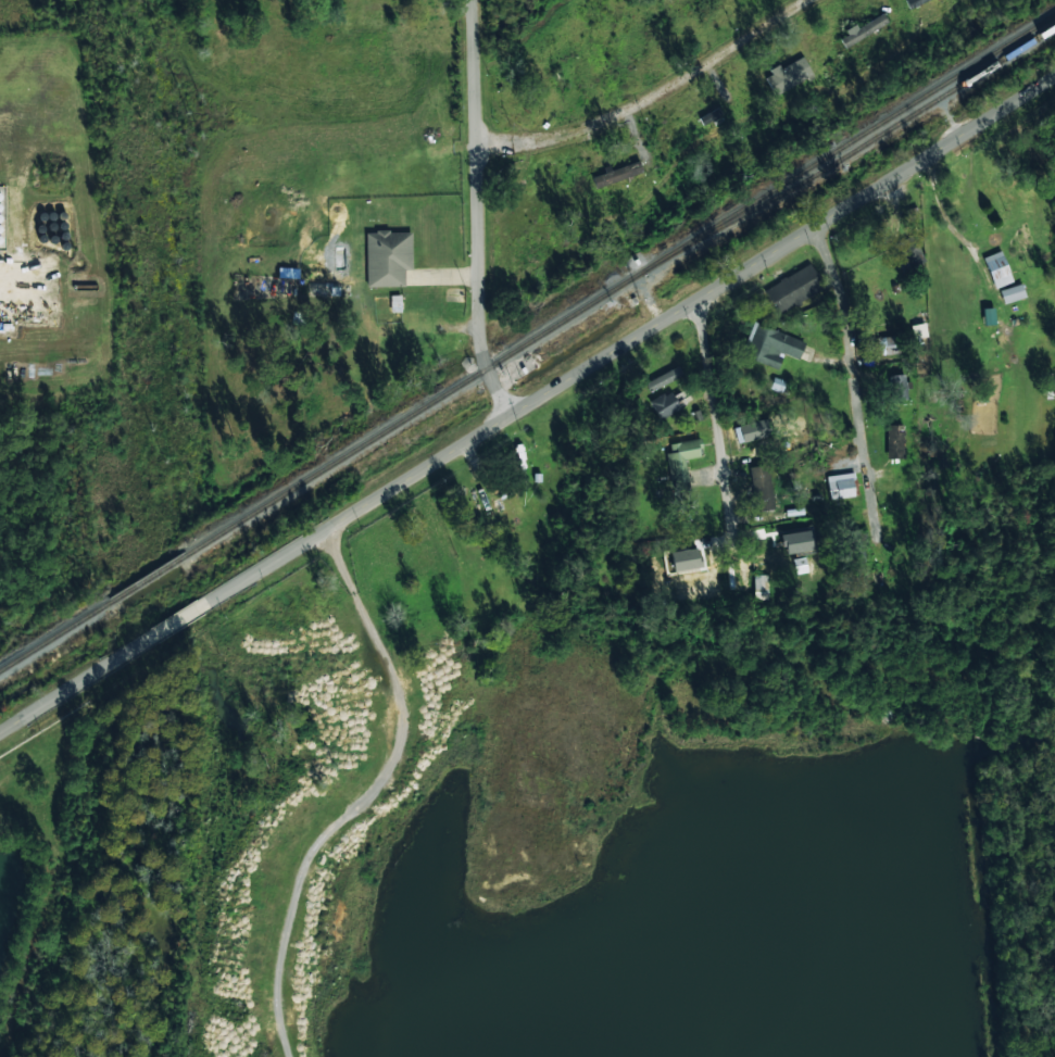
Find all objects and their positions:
building: (914, 2)
building: (863, 29)
building: (787, 75)
railway: (871, 139)
building: (617, 174)
road: (473, 212)
building: (905, 253)
building: (387, 257)
building: (996, 269)
building: (328, 281)
road: (2, 286)
building: (792, 288)
building: (1012, 293)
railway: (527, 341)
building: (887, 344)
building: (771, 345)
building: (663, 378)
building: (899, 386)
road: (852, 391)
building: (671, 402)
road: (527, 403)
road: (717, 415)
building: (749, 431)
building: (894, 441)
building: (681, 458)
building: (840, 486)
building: (762, 488)
building: (813, 555)
building: (683, 563)
building: (759, 587)

